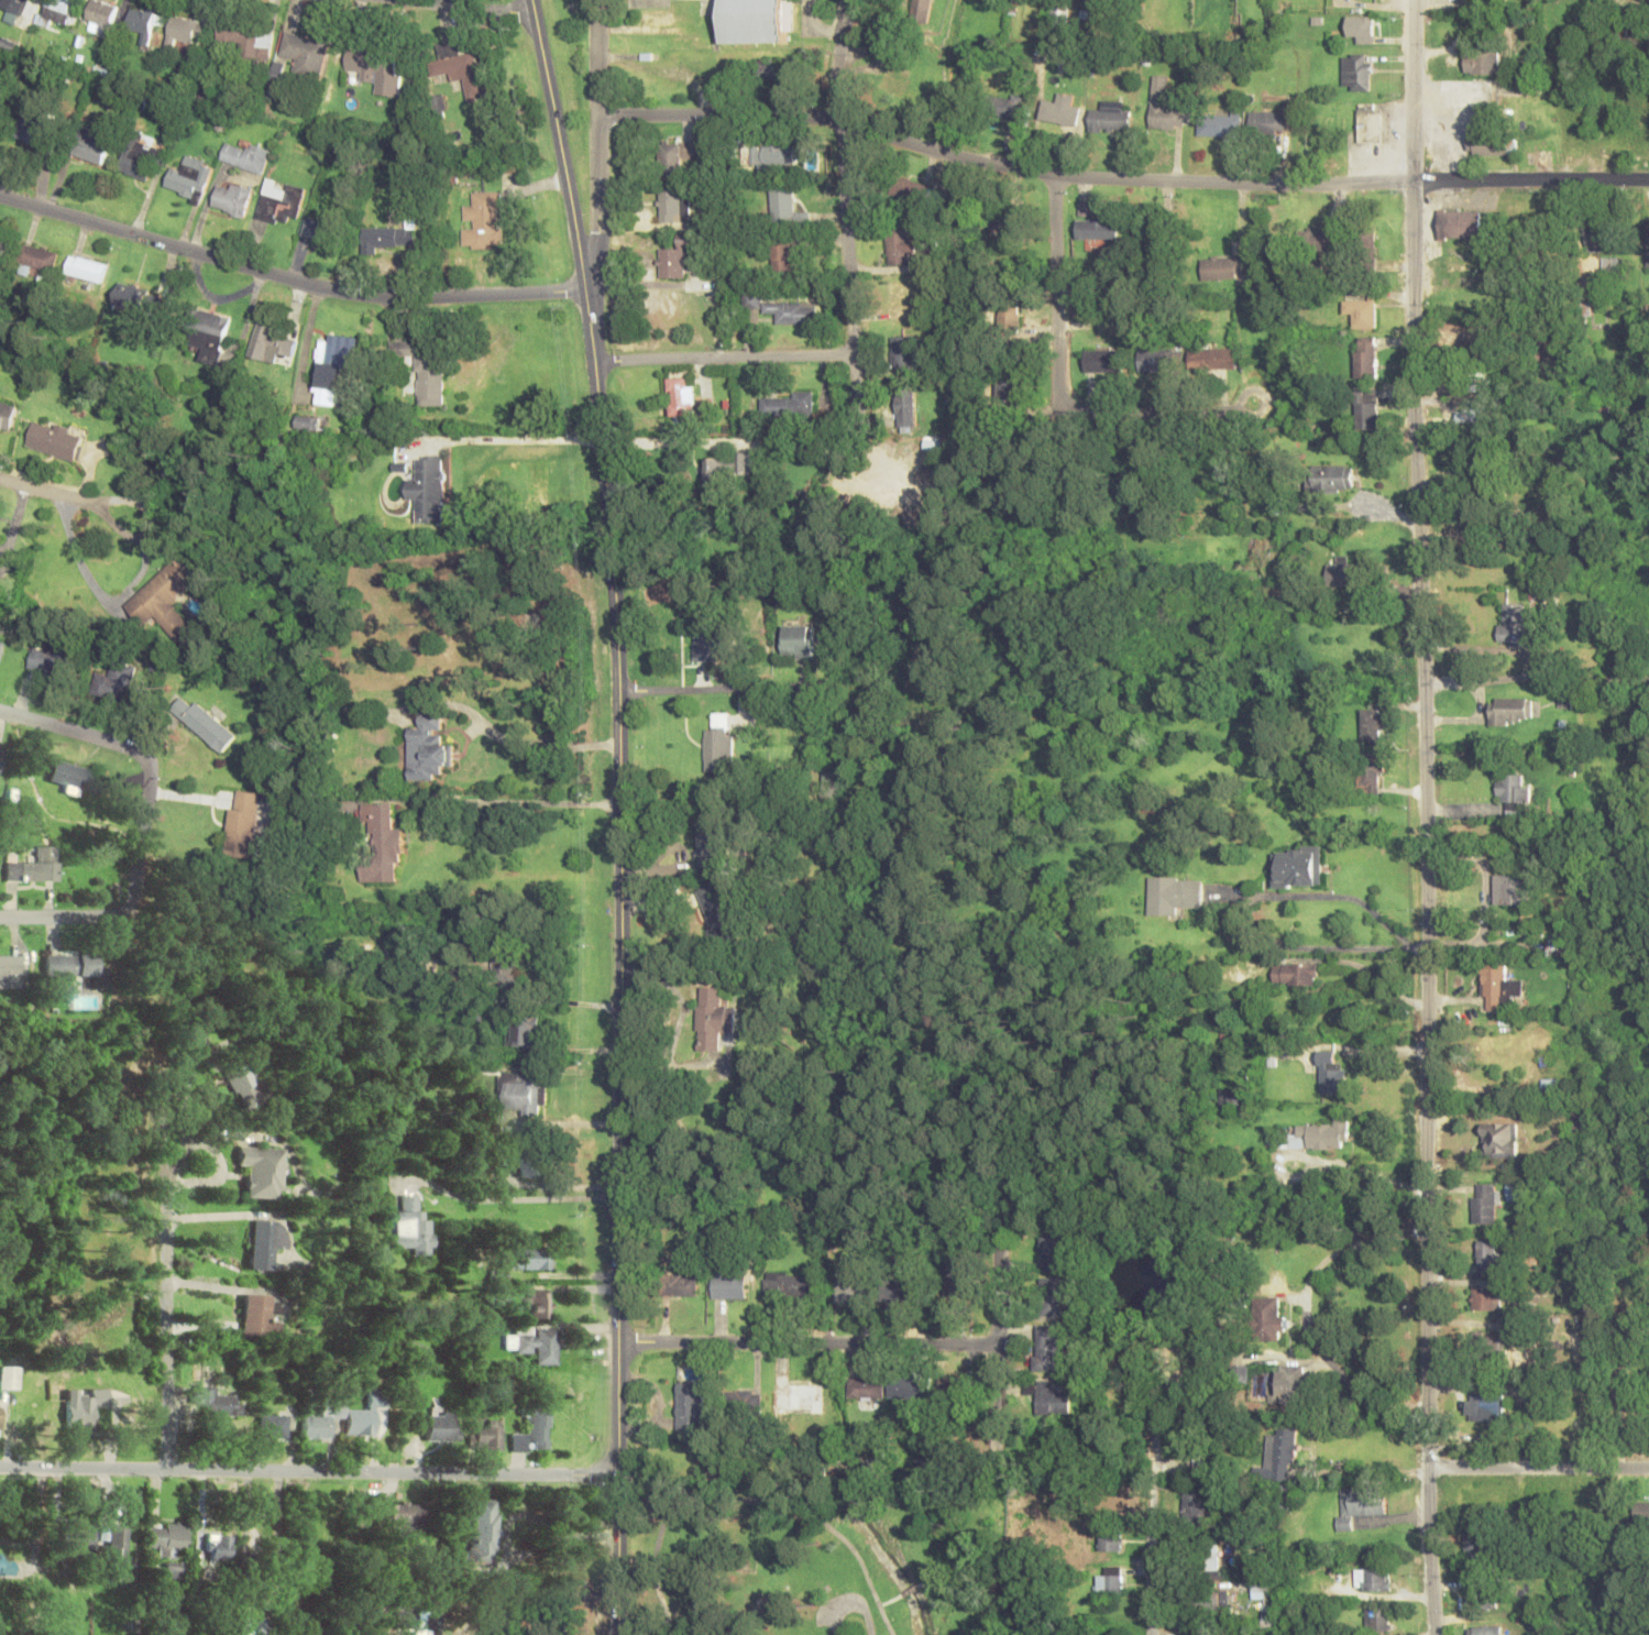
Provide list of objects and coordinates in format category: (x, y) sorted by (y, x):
building: (1474, 4)
fountain: (570, 7)
building: (920, 8)
building: (13, 10)
road: (457, 10)
building: (56, 11)
building: (100, 18)
building: (694, 18)
building: (757, 20)
building: (142, 23)
building: (1360, 29)
building: (185, 30)
building: (246, 40)
building: (306, 55)
building: (1481, 63)
building: (460, 68)
building: (376, 69)
building: (767, 70)
building: (1355, 70)
road: (1414, 90)
building: (1163, 105)
building: (1009, 106)
park: (575, 109)
building: (1059, 110)
building: (1110, 117)
building: (1265, 121)
building: (1218, 122)
building: (1371, 122)
building: (34, 130)
road: (560, 144)
road: (600, 145)
building: (1492, 145)
building: (91, 146)
building: (674, 154)
building: (244, 155)
building: (141, 157)
building: (778, 157)
road: (1002, 168)
building: (189, 178)
road: (1530, 179)
building: (906, 189)
building: (232, 198)
building: (279, 201)
building: (671, 202)
building: (787, 207)
building: (483, 220)
building: (1458, 222)
building: (1532, 224)
building: (1000, 228)
building: (1097, 229)
building: (320, 230)
building: (1603, 232)
road: (847, 234)
building: (387, 238)
building: (1320, 240)
building: (1366, 241)
building: (1647, 241)
building: (4, 245)
building: (900, 248)
building: (1148, 249)
building: (785, 255)
building: (37, 259)
building: (672, 262)
building: (1610, 265)
building: (1224, 267)
building: (87, 268)
road: (287, 279)
building: (1143, 281)
road: (1055, 292)
building: (138, 298)
building: (901, 301)
building: (785, 309)
building: (1583, 309)
building: (1360, 311)
building: (1008, 316)
building: (211, 334)
building: (274, 342)
building: (1475, 345)
building: (1557, 349)
building: (903, 352)
road: (725, 356)
building: (1211, 359)
building: (1101, 360)
building: (1157, 360)
building: (1365, 363)
building: (336, 366)
building: (425, 367)
building: (1478, 385)
building: (1005, 389)
building: (682, 397)
building: (790, 405)
building: (1366, 408)
building: (905, 409)
building: (8, 416)
road: (1143, 416)
building: (1477, 420)
building: (309, 423)
building: (56, 439)
building: (933, 441)
building: (726, 468)
building: (1483, 470)
building: (1330, 479)
building: (427, 489)
building: (932, 489)
road: (44, 493)
road: (152, 531)
building: (1267, 548)
building: (1346, 573)
building: (165, 601)
building: (1513, 624)
building: (707, 640)
building: (798, 640)
building: (1, 647)
building: (51, 659)
road: (1537, 680)
building: (116, 681)
building: (1511, 710)
building: (204, 722)
building: (1371, 724)
building: (719, 743)
building: (430, 748)
building: (1, 751)
building: (1371, 773)
building: (76, 777)
building: (1513, 793)
building: (244, 821)
road: (145, 823)
building: (710, 842)
building: (381, 844)
building: (34, 867)
building: (1297, 867)
building: (1514, 889)
building: (1175, 895)
road: (1428, 908)
building: (721, 909)
road: (619, 961)
building: (506, 964)
building: (68, 970)
building: (11, 972)
building: (1295, 974)
building: (1499, 987)
building: (713, 1018)
building: (197, 1029)
building: (526, 1030)
building: (1507, 1049)
building: (1279, 1054)
building: (1333, 1079)
building: (245, 1082)
building: (525, 1091)
building: (1230, 1097)
building: (1582, 1118)
road: (175, 1120)
building: (1320, 1135)
building: (1502, 1138)
building: (530, 1160)
building: (263, 1171)
building: (1484, 1203)
building: (414, 1227)
building: (267, 1242)
building: (1058, 1251)
building: (1488, 1255)
building: (531, 1258)
building: (956, 1273)
building: (680, 1285)
building: (789, 1285)
building: (728, 1286)
building: (853, 1291)
building: (904, 1291)
building: (1056, 1294)
building: (1485, 1298)
building: (541, 1303)
building: (1267, 1315)
building: (259, 1317)
road: (168, 1329)
building: (538, 1343)
road: (809, 1343)
road: (1000, 1343)
building: (1494, 1345)
building: (1049, 1349)
building: (8, 1378)
building: (1293, 1380)
building: (954, 1385)
building: (866, 1386)
building: (905, 1386)
building: (1052, 1397)
building: (799, 1398)
building: (745, 1402)
building: (218, 1403)
building: (690, 1405)
building: (1485, 1408)
building: (80, 1411)
building: (363, 1416)
building: (320, 1422)
building: (272, 1426)
building: (443, 1427)
building: (537, 1433)
building: (490, 1436)
building: (1198, 1449)
building: (1279, 1457)
road: (1539, 1469)
road: (308, 1471)
building: (1285, 1495)
building: (1194, 1504)
building: (1360, 1504)
road: (251, 1511)
road: (809, 1512)
building: (1641, 1512)
building: (408, 1517)
building: (483, 1533)
building: (77, 1538)
building: (166, 1538)
road: (1152, 1538)
building: (1110, 1539)
building: (1482, 1546)
building: (217, 1548)
park: (750, 1548)
building: (117, 1552)
building: (684, 1555)
building: (1209, 1562)
building: (6, 1567)
building: (174, 1569)
road: (652, 1577)
building: (1372, 1579)
building: (1110, 1581)
building: (1486, 1598)
road: (850, 1601)
building: (1207, 1604)
building: (1377, 1620)
building: (254, 1626)
building: (1485, 1629)

